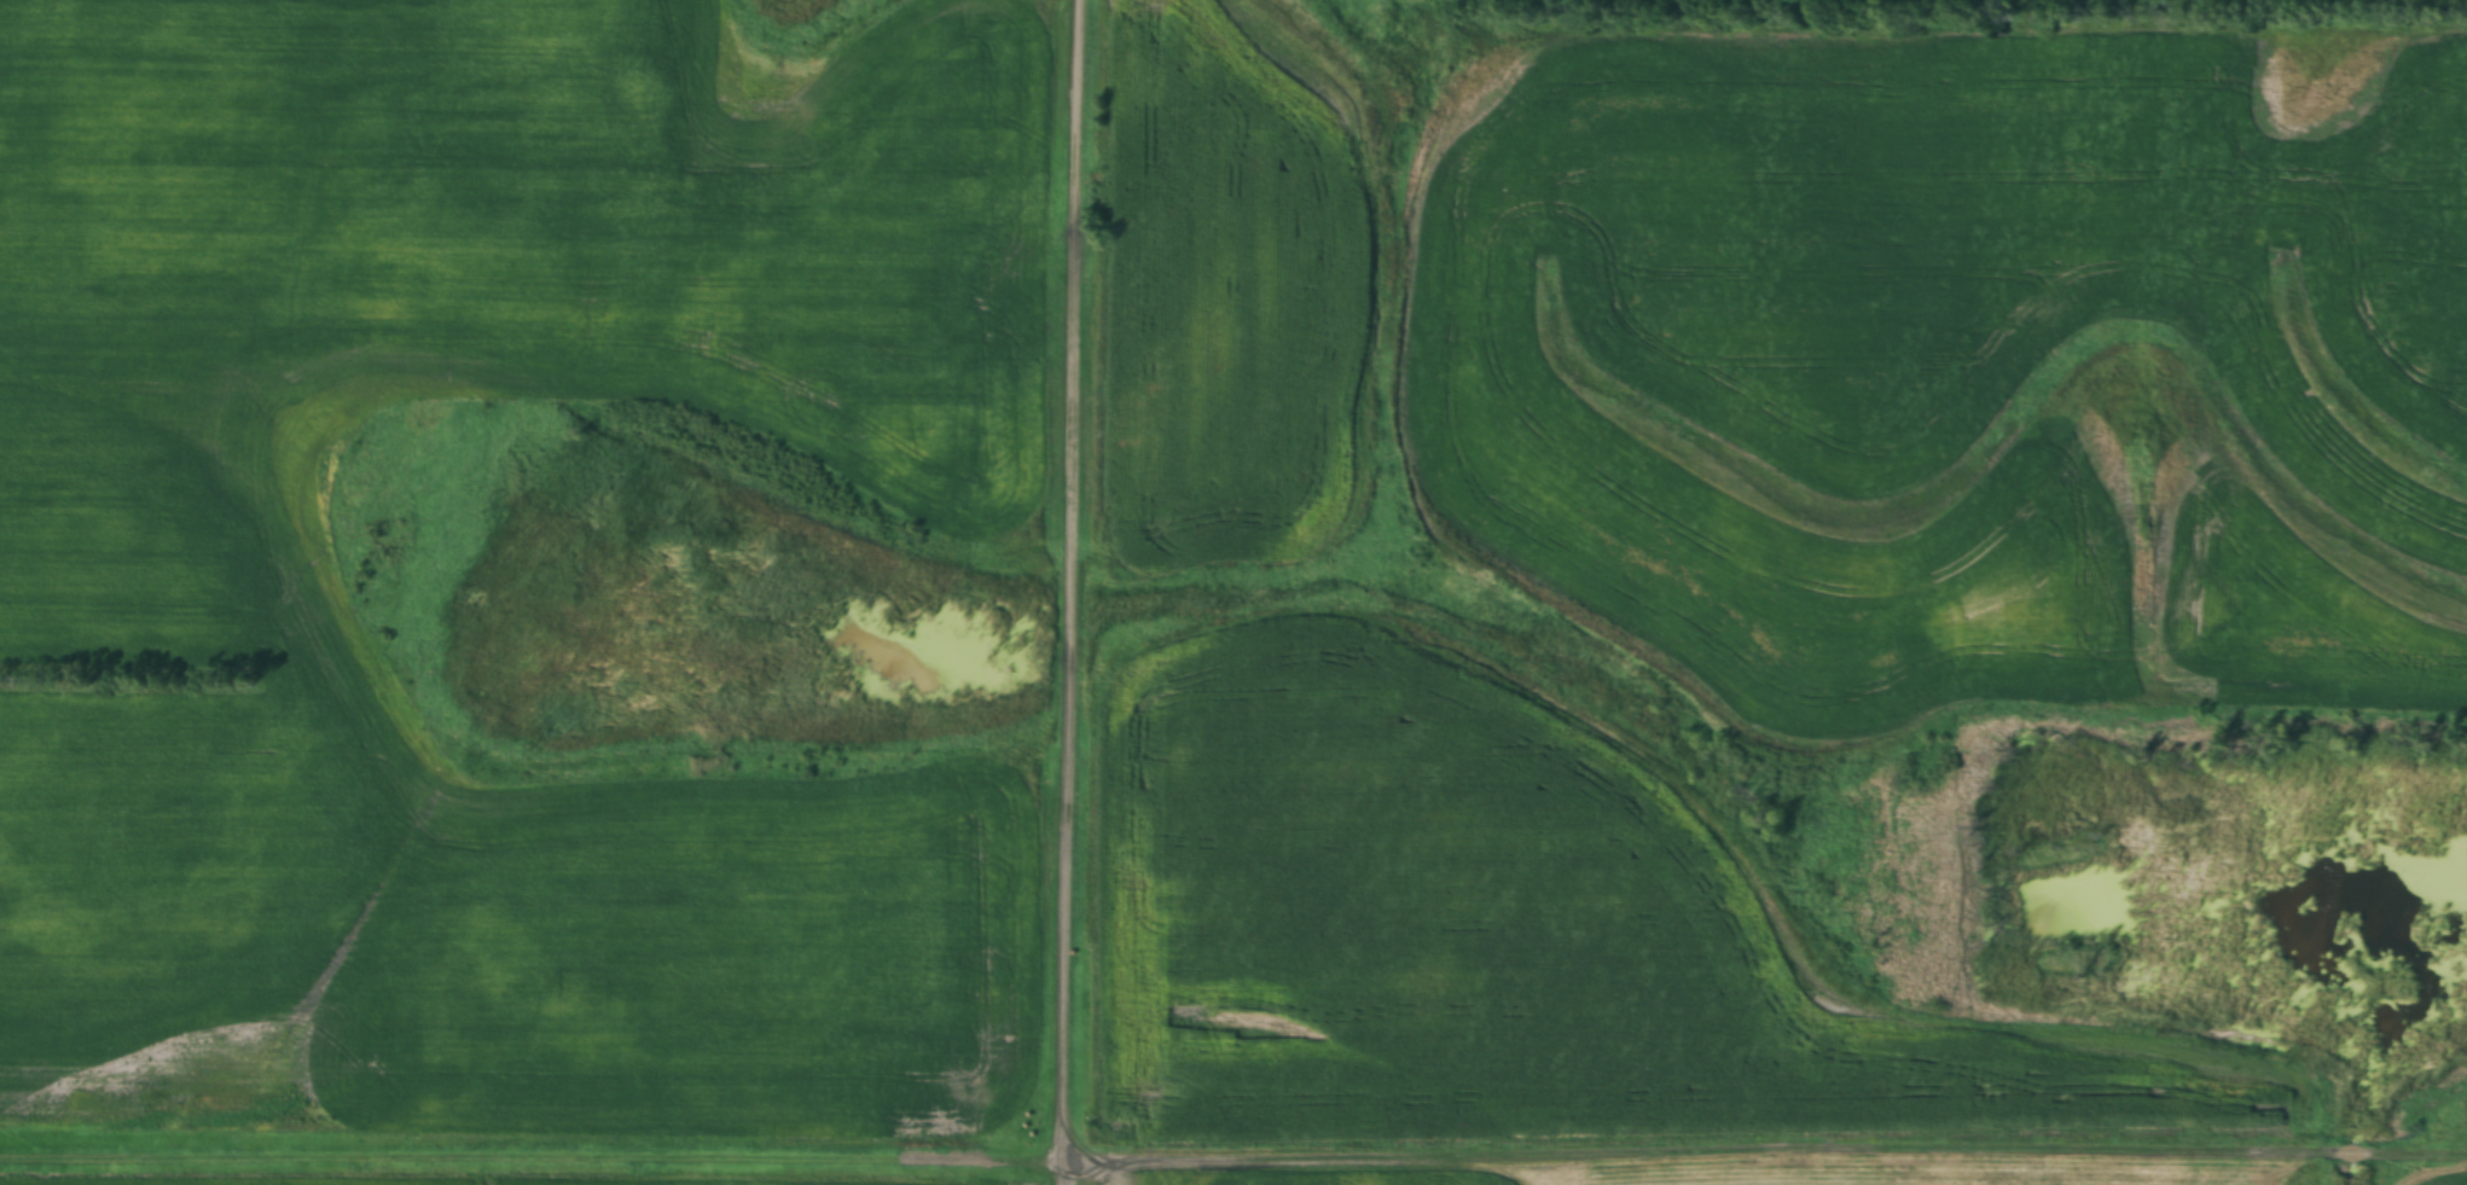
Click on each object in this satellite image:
road: (1069, 592)
road: (1232, 1161)

